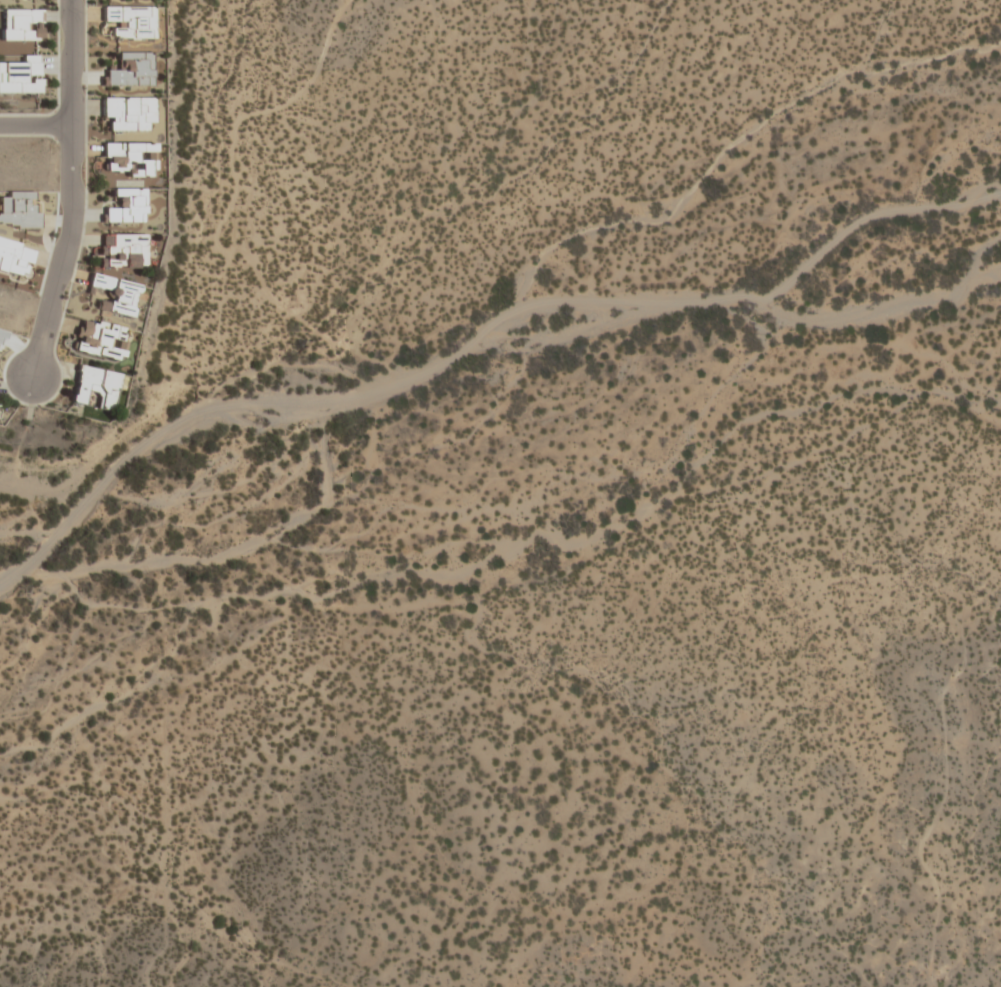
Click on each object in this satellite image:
building: (129, 22)
building: (21, 25)
building: (129, 70)
building: (20, 76)
building: (128, 113)
road: (35, 127)
building: (128, 159)
road: (72, 190)
building: (125, 207)
building: (122, 251)
building: (14, 258)
building: (116, 295)
building: (100, 340)
building: (95, 386)

